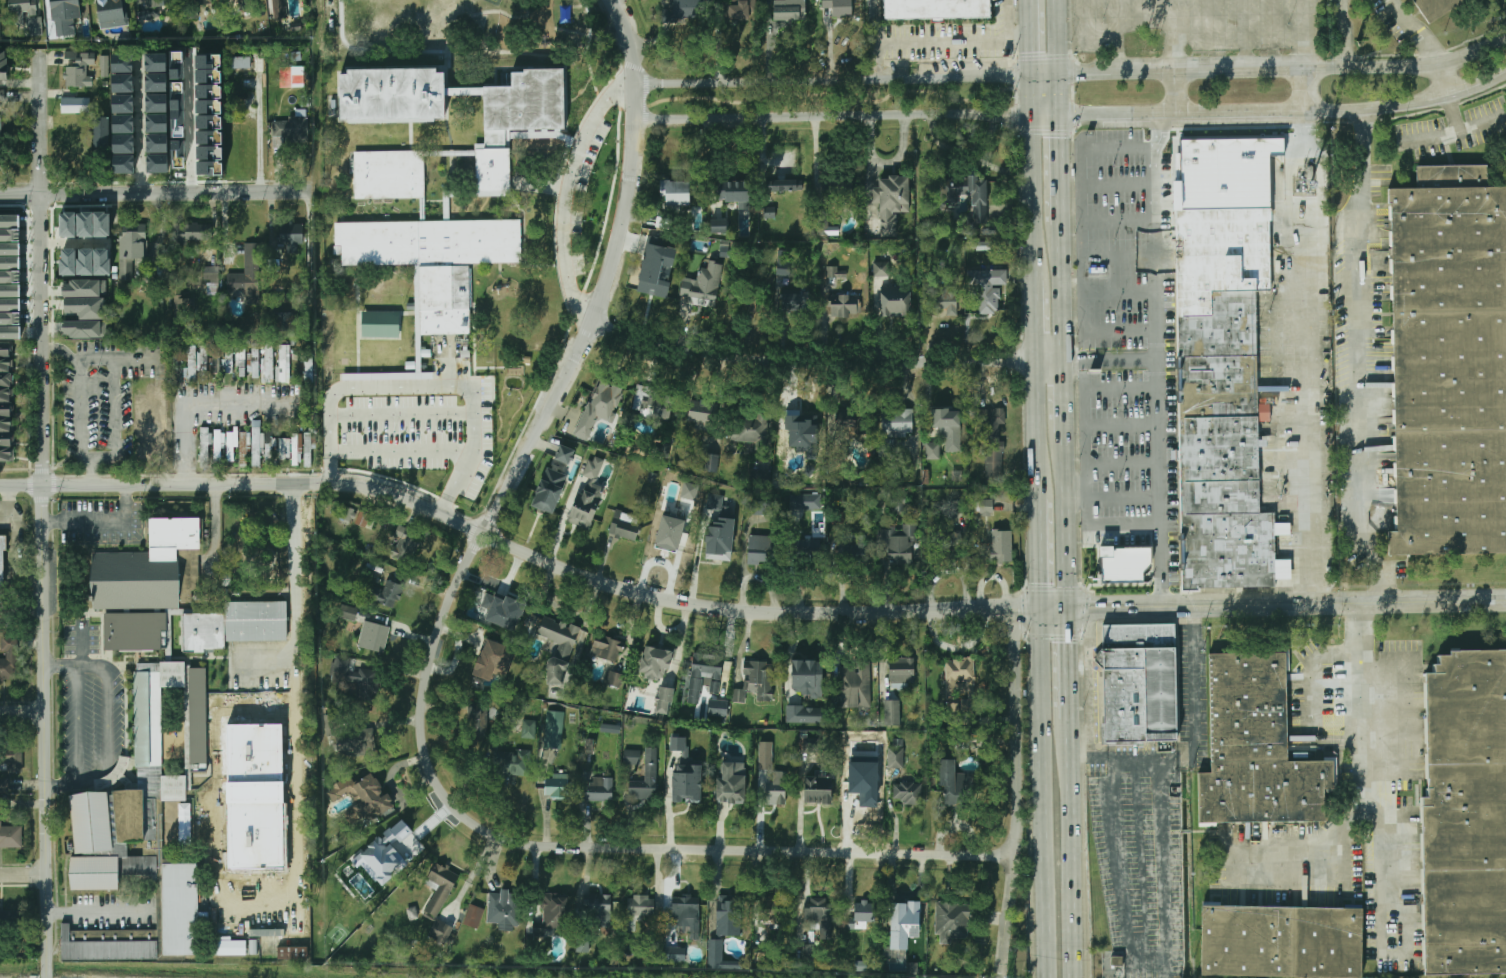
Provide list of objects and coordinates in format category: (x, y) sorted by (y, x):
building: (155, 2)
building: (244, 4)
building: (65, 5)
building: (839, 8)
building: (1436, 8)
building: (279, 9)
building: (688, 9)
building: (741, 9)
building: (937, 9)
building: (788, 10)
building: (110, 12)
building: (26, 13)
building: (148, 14)
road: (875, 21)
road: (1417, 29)
road: (1305, 33)
road: (1173, 35)
road: (1032, 36)
road: (954, 39)
road: (632, 42)
traffic signals: (1033, 46)
road: (1059, 56)
road: (876, 60)
building: (246, 62)
building: (2, 65)
building: (104, 66)
road: (1285, 67)
building: (81, 71)
building: (123, 73)
traffic signals: (1079, 73)
road: (1047, 74)
building: (292, 76)
road: (836, 79)
road: (22, 82)
road: (1444, 82)
road: (1305, 89)
road: (1181, 91)
building: (2, 96)
building: (123, 103)
building: (75, 105)
building: (157, 112)
road: (1286, 112)
road: (1047, 114)
traffic signals: (1011, 115)
road: (1455, 115)
road: (837, 117)
road: (142, 123)
road: (190, 125)
building: (300, 129)
building: (100, 131)
building: (0, 132)
road: (1450, 132)
traffic signals: (1061, 133)
building: (124, 134)
building: (179, 139)
road: (257, 142)
building: (209, 152)
building: (124, 164)
road: (1061, 169)
road: (1035, 176)
building: (786, 184)
building: (837, 186)
building: (731, 187)
road: (574, 192)
building: (675, 192)
road: (154, 193)
road: (1078, 200)
building: (978, 201)
building: (890, 203)
building: (419, 209)
building: (823, 223)
building: (85, 224)
building: (719, 226)
building: (194, 232)
building: (291, 235)
road: (1156, 235)
building: (131, 246)
building: (669, 252)
building: (85, 262)
building: (784, 262)
building: (881, 269)
building: (250, 274)
building: (213, 275)
building: (10, 277)
building: (653, 284)
building: (699, 292)
building: (987, 292)
road: (1063, 292)
building: (85, 298)
building: (944, 300)
building: (796, 301)
building: (895, 302)
building: (843, 305)
road: (1037, 319)
road: (595, 320)
building: (283, 321)
building: (380, 324)
building: (86, 329)
road: (63, 348)
road: (1309, 357)
building: (244, 358)
building: (1223, 358)
road: (95, 359)
road: (1357, 360)
building: (269, 361)
building: (202, 362)
road: (827, 362)
road: (1082, 362)
building: (1450, 362)
building: (283, 363)
building: (309, 365)
building: (178, 366)
building: (6, 372)
road: (421, 387)
road: (164, 395)
road: (1065, 397)
building: (639, 401)
road: (205, 404)
road: (114, 409)
building: (586, 409)
road: (80, 412)
road: (402, 412)
building: (702, 414)
building: (144, 416)
building: (798, 422)
building: (849, 422)
building: (897, 422)
building: (949, 426)
building: (747, 428)
road: (1039, 428)
building: (6, 435)
road: (1159, 436)
building: (993, 441)
building: (260, 444)
building: (224, 445)
road: (1083, 446)
building: (205, 447)
building: (886, 447)
building: (244, 448)
building: (298, 448)
road: (400, 450)
building: (933, 452)
building: (564, 454)
road: (100, 460)
building: (711, 463)
building: (592, 470)
road: (91, 473)
building: (760, 474)
road: (247, 481)
building: (548, 490)
building: (689, 491)
road: (1113, 497)
building: (806, 500)
building: (718, 505)
building: (899, 505)
building: (760, 507)
building: (956, 507)
building: (985, 507)
building: (582, 509)
road: (45, 513)
building: (344, 513)
parking lot: (104, 518)
building: (837, 518)
building: (363, 519)
road: (105, 521)
road: (1066, 521)
building: (625, 525)
building: (678, 537)
building: (950, 542)
building: (899, 543)
building: (406, 544)
building: (1002, 546)
building: (717, 550)
building: (757, 550)
building: (812, 552)
road: (1042, 553)
building: (2, 562)
road: (796, 564)
building: (1127, 565)
building: (148, 569)
traffic signals: (1043, 579)
road: (294, 585)
building: (390, 595)
road: (1324, 603)
building: (500, 607)
road: (722, 607)
road: (1092, 608)
traffic signals: (1092, 609)
parking lot: (1, 610)
road: (1008, 611)
traffic signals: (1021, 611)
building: (348, 612)
building: (255, 621)
road: (584, 622)
building: (134, 631)
building: (204, 631)
building: (374, 635)
parking lot: (85, 636)
traffic signals: (1068, 640)
road: (81, 643)
building: (565, 649)
building: (607, 649)
building: (656, 655)
building: (9, 658)
building: (493, 662)
road: (1068, 663)
building: (707, 667)
building: (806, 670)
building: (902, 671)
building: (960, 671)
building: (759, 672)
building: (352, 677)
building: (613, 678)
road: (1307, 680)
building: (854, 683)
building: (1141, 683)
road: (107, 689)
building: (665, 695)
building: (738, 695)
building: (717, 707)
road: (1043, 709)
parking lot: (1396, 709)
building: (892, 712)
road: (23, 714)
building: (803, 714)
building: (198, 715)
parking lot: (93, 716)
building: (479, 719)
road: (78, 724)
building: (610, 728)
building: (553, 729)
building: (343, 730)
building: (963, 741)
building: (677, 743)
building: (810, 744)
building: (1259, 747)
building: (765, 754)
building: (633, 756)
building: (895, 756)
building: (11, 759)
road: (1131, 761)
road: (1069, 762)
building: (509, 765)
building: (115, 770)
road: (87, 775)
road: (106, 778)
building: (646, 778)
road: (1360, 779)
building: (731, 783)
building: (4, 784)
road: (72, 784)
building: (951, 784)
road: (391, 786)
building: (556, 786)
building: (688, 789)
building: (776, 789)
building: (598, 790)
building: (818, 790)
building: (908, 793)
road: (1019, 794)
building: (360, 798)
building: (137, 812)
building: (1465, 816)
building: (93, 817)
building: (203, 832)
building: (114, 834)
building: (10, 835)
road: (584, 846)
parking lot: (1143, 846)
road: (1310, 849)
building: (390, 852)
building: (140, 864)
road: (275, 868)
building: (97, 869)
road: (22, 870)
building: (439, 876)
road: (1045, 893)
road: (1071, 893)
road: (1163, 903)
building: (183, 904)
building: (643, 906)
road: (96, 907)
building: (595, 908)
building: (686, 908)
building: (505, 909)
building: (770, 911)
building: (554, 913)
building: (863, 913)
building: (473, 916)
building: (1, 917)
building: (728, 918)
building: (820, 918)
building: (952, 920)
building: (903, 924)
building: (440, 930)
building: (1282, 942)
building: (107, 944)
building: (227, 947)
building: (292, 952)
building: (674, 954)
building: (719, 957)

